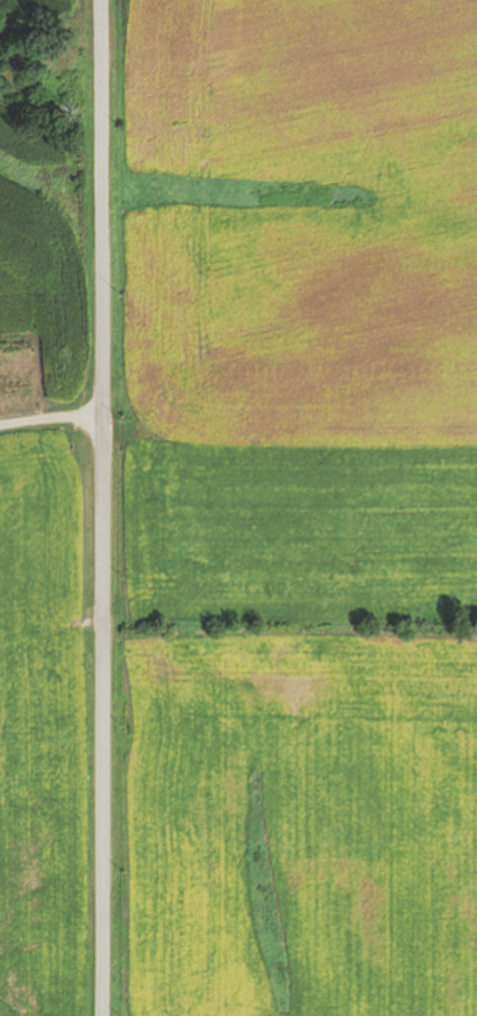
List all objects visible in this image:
road: (51, 418)
road: (103, 508)

